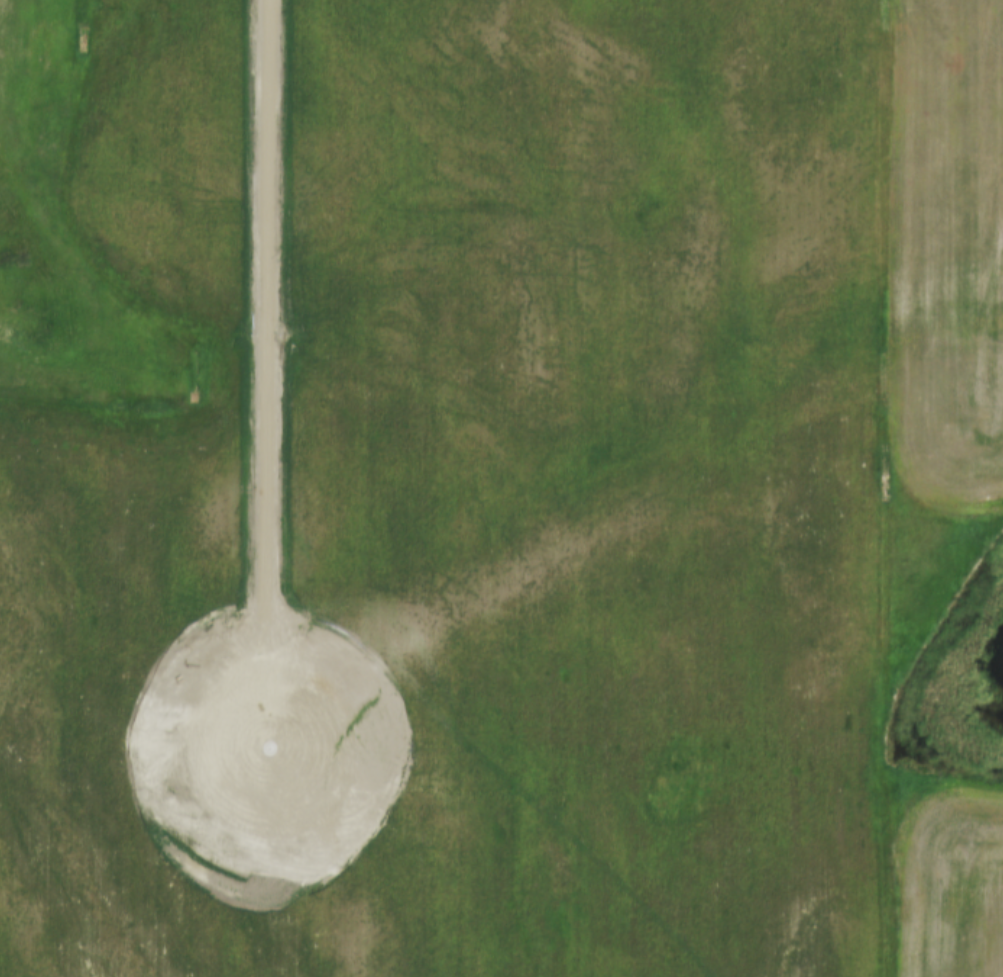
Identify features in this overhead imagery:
road: (893, 488)
wind turbine: (273, 746)

